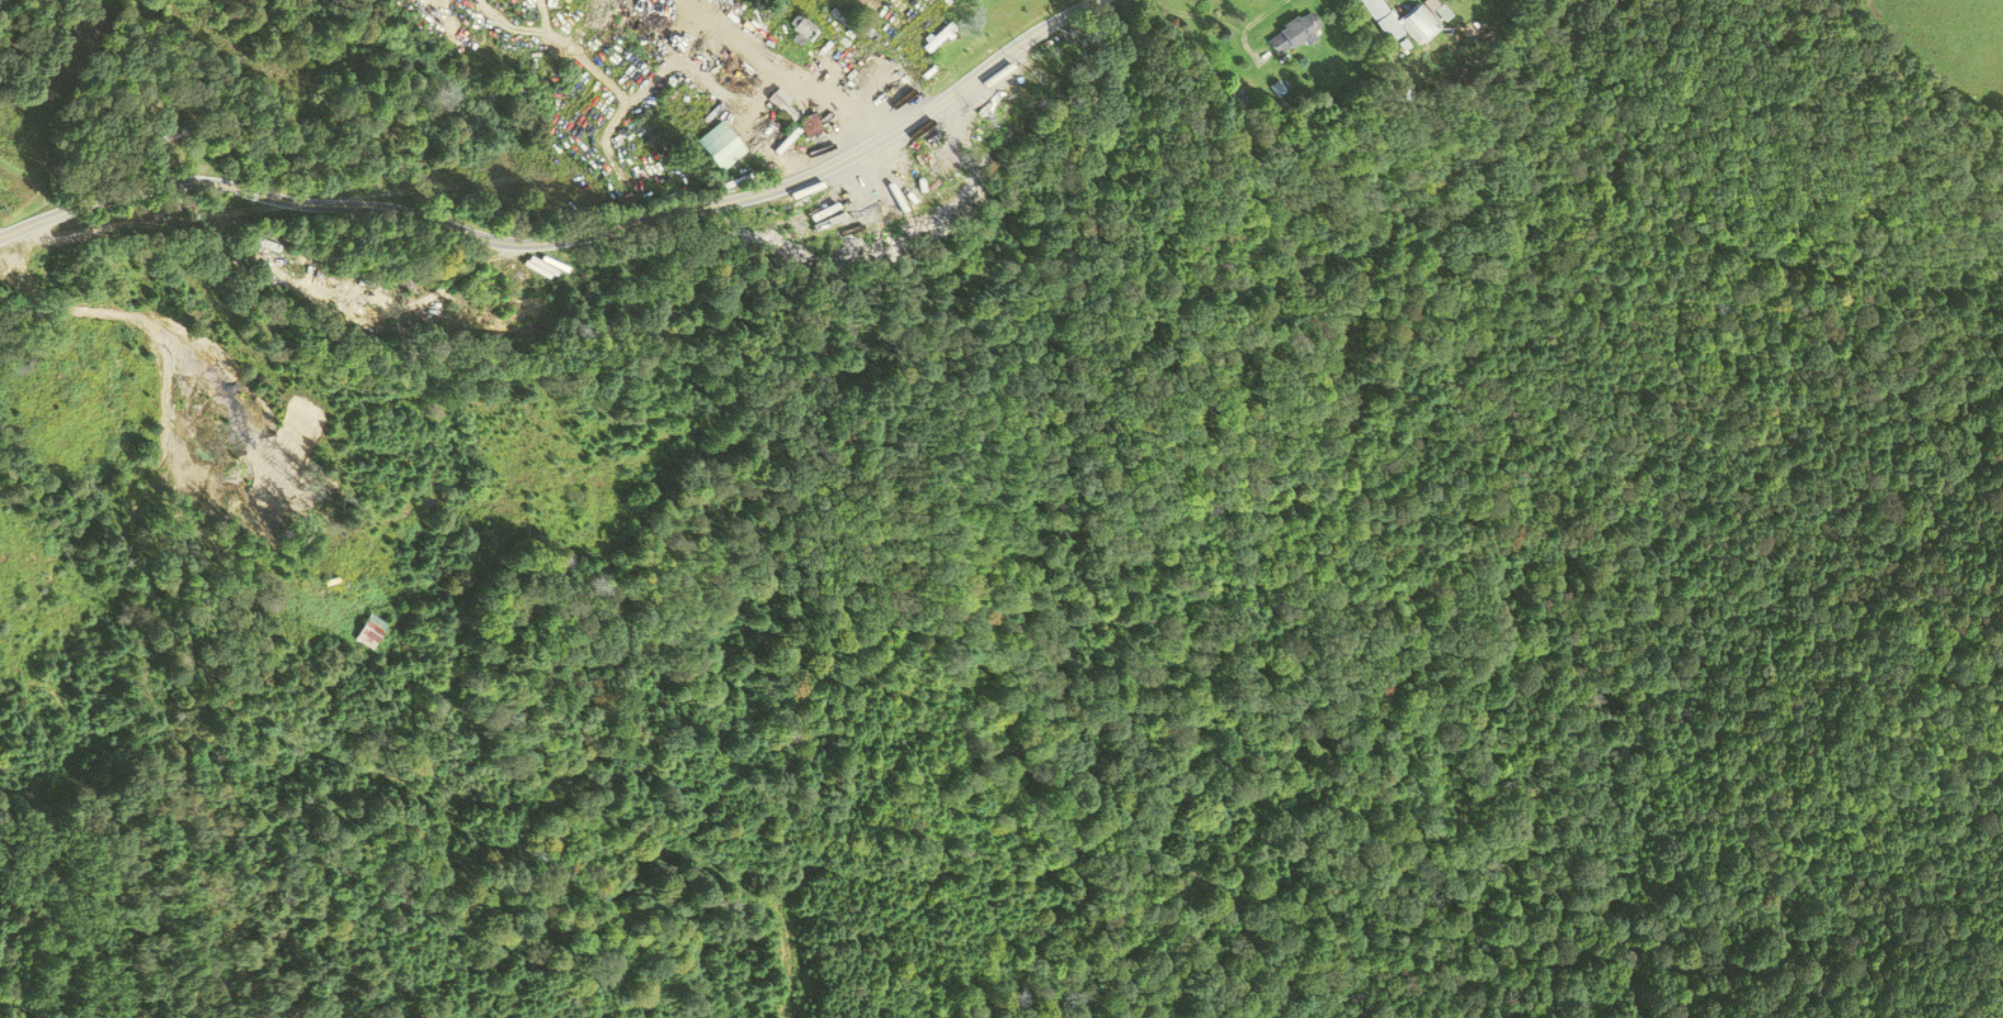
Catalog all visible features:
building: (1387, 0)
building: (1429, 4)
building: (1379, 20)
building: (1418, 25)
building: (800, 29)
building: (1292, 34)
road: (778, 68)
building: (794, 115)
building: (720, 145)
building: (808, 152)
road: (568, 236)
road: (155, 320)
building: (371, 630)

